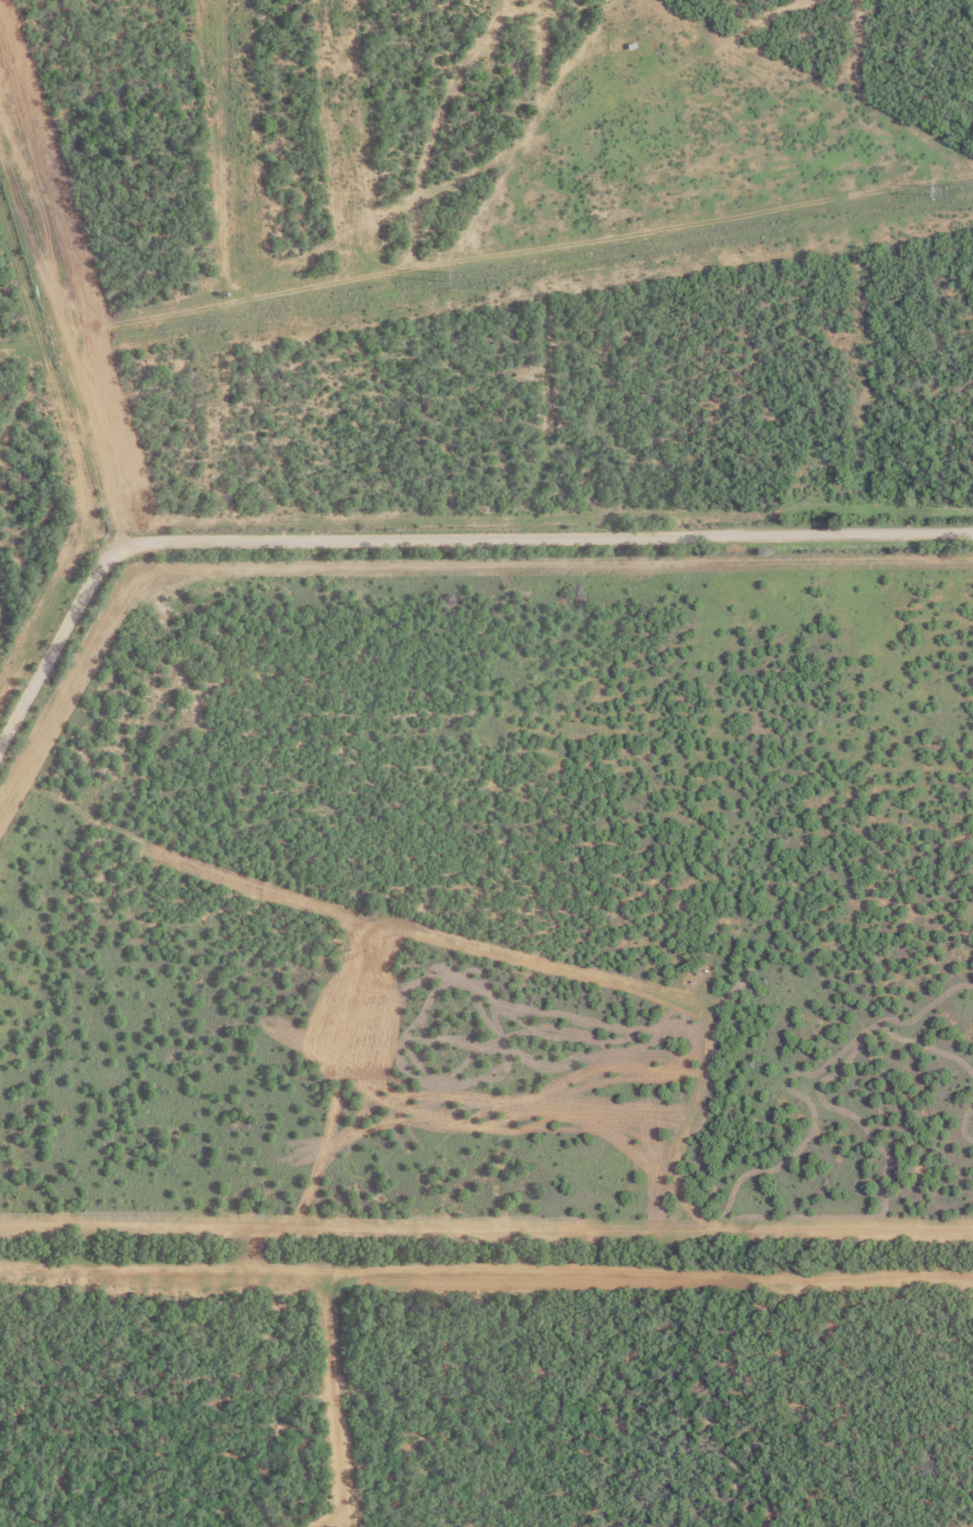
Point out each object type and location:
power tower: (946, 192)
power tower: (430, 276)
road: (429, 538)

